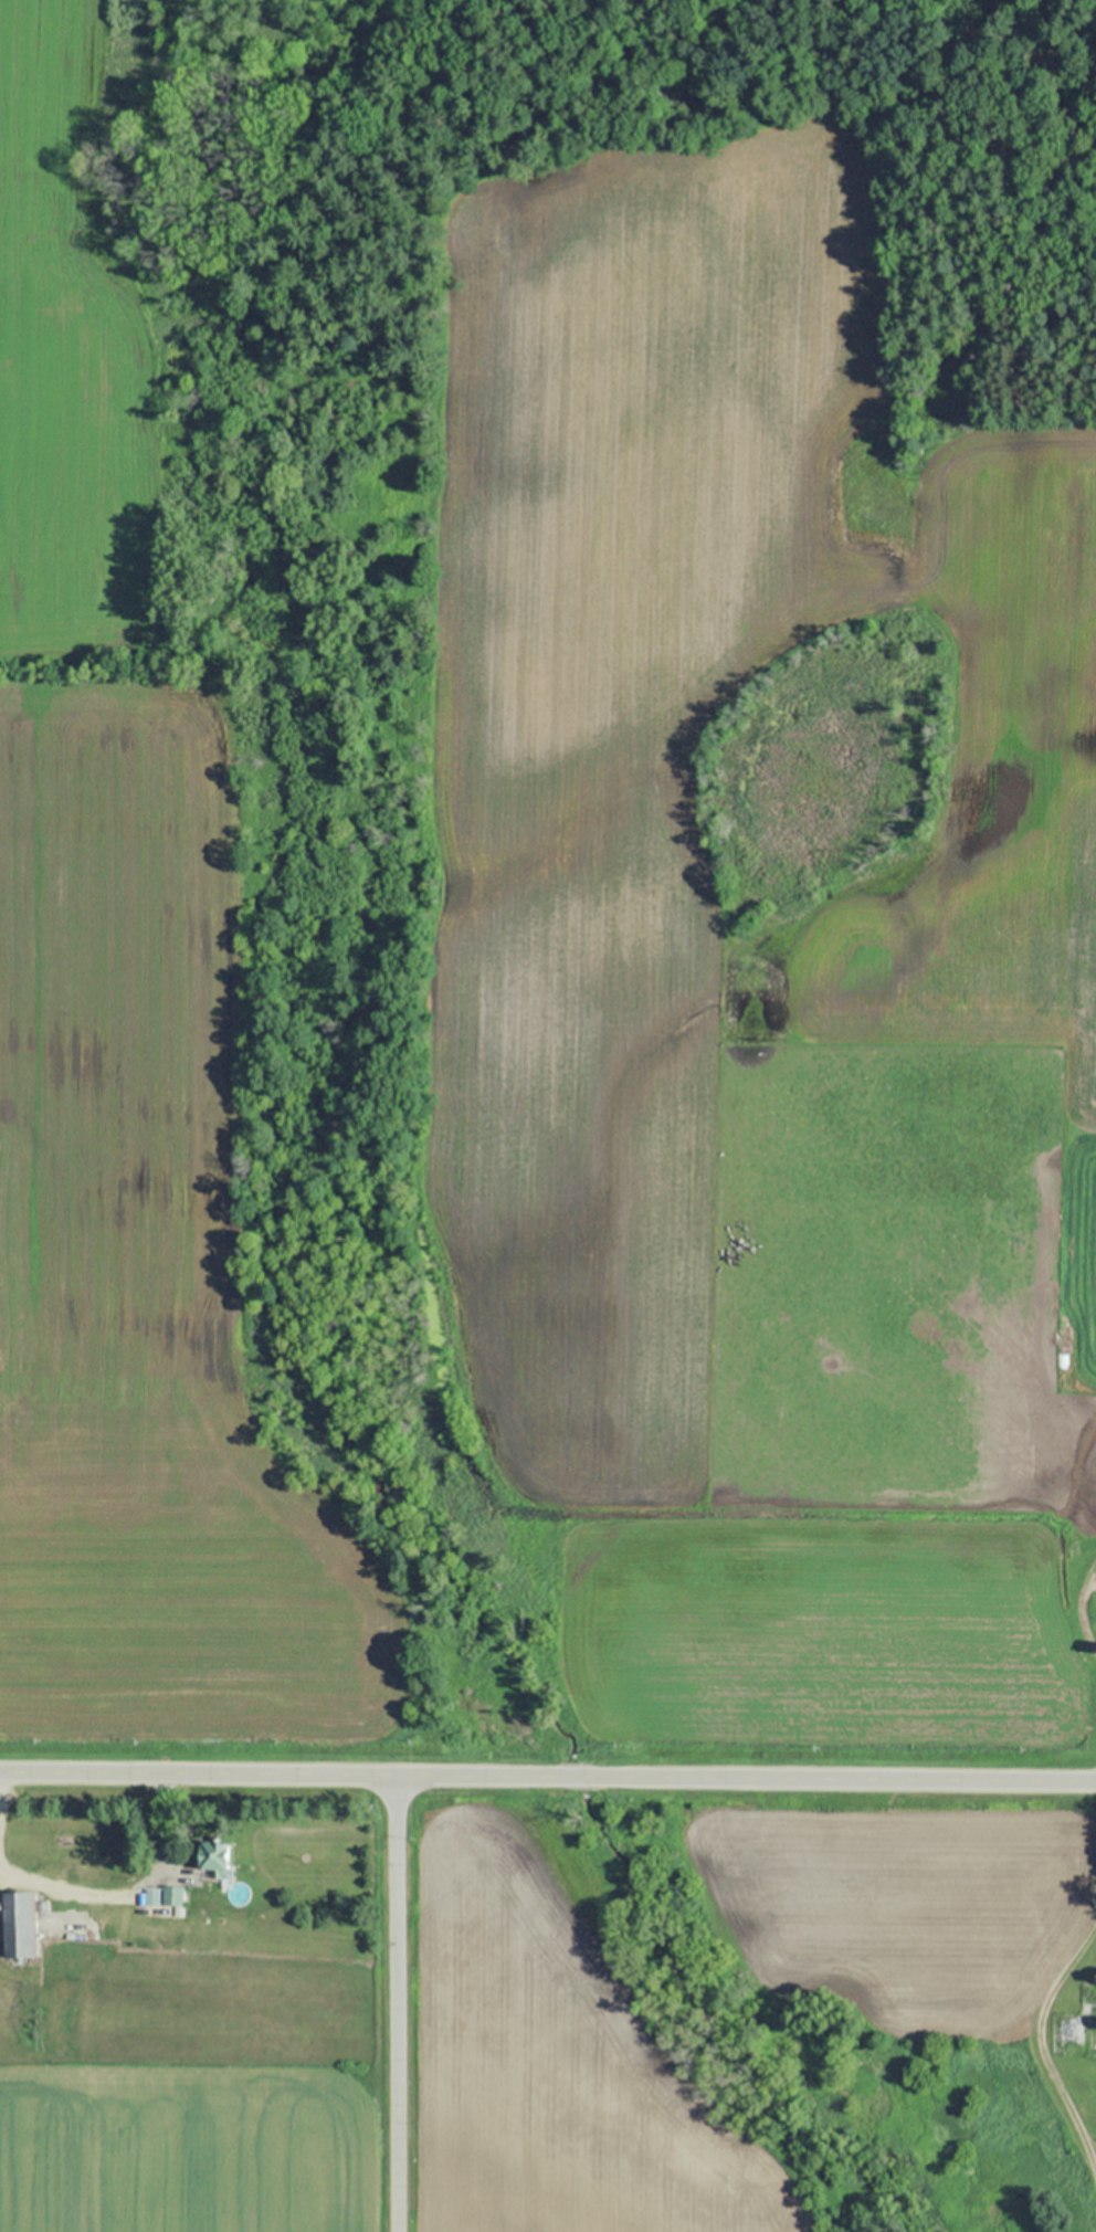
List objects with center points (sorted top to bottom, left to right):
road: (548, 1778)
building: (214, 1856)
building: (172, 1895)
building: (151, 1896)
building: (20, 1924)
road: (396, 2004)
building: (1073, 2023)
road: (1040, 2044)

